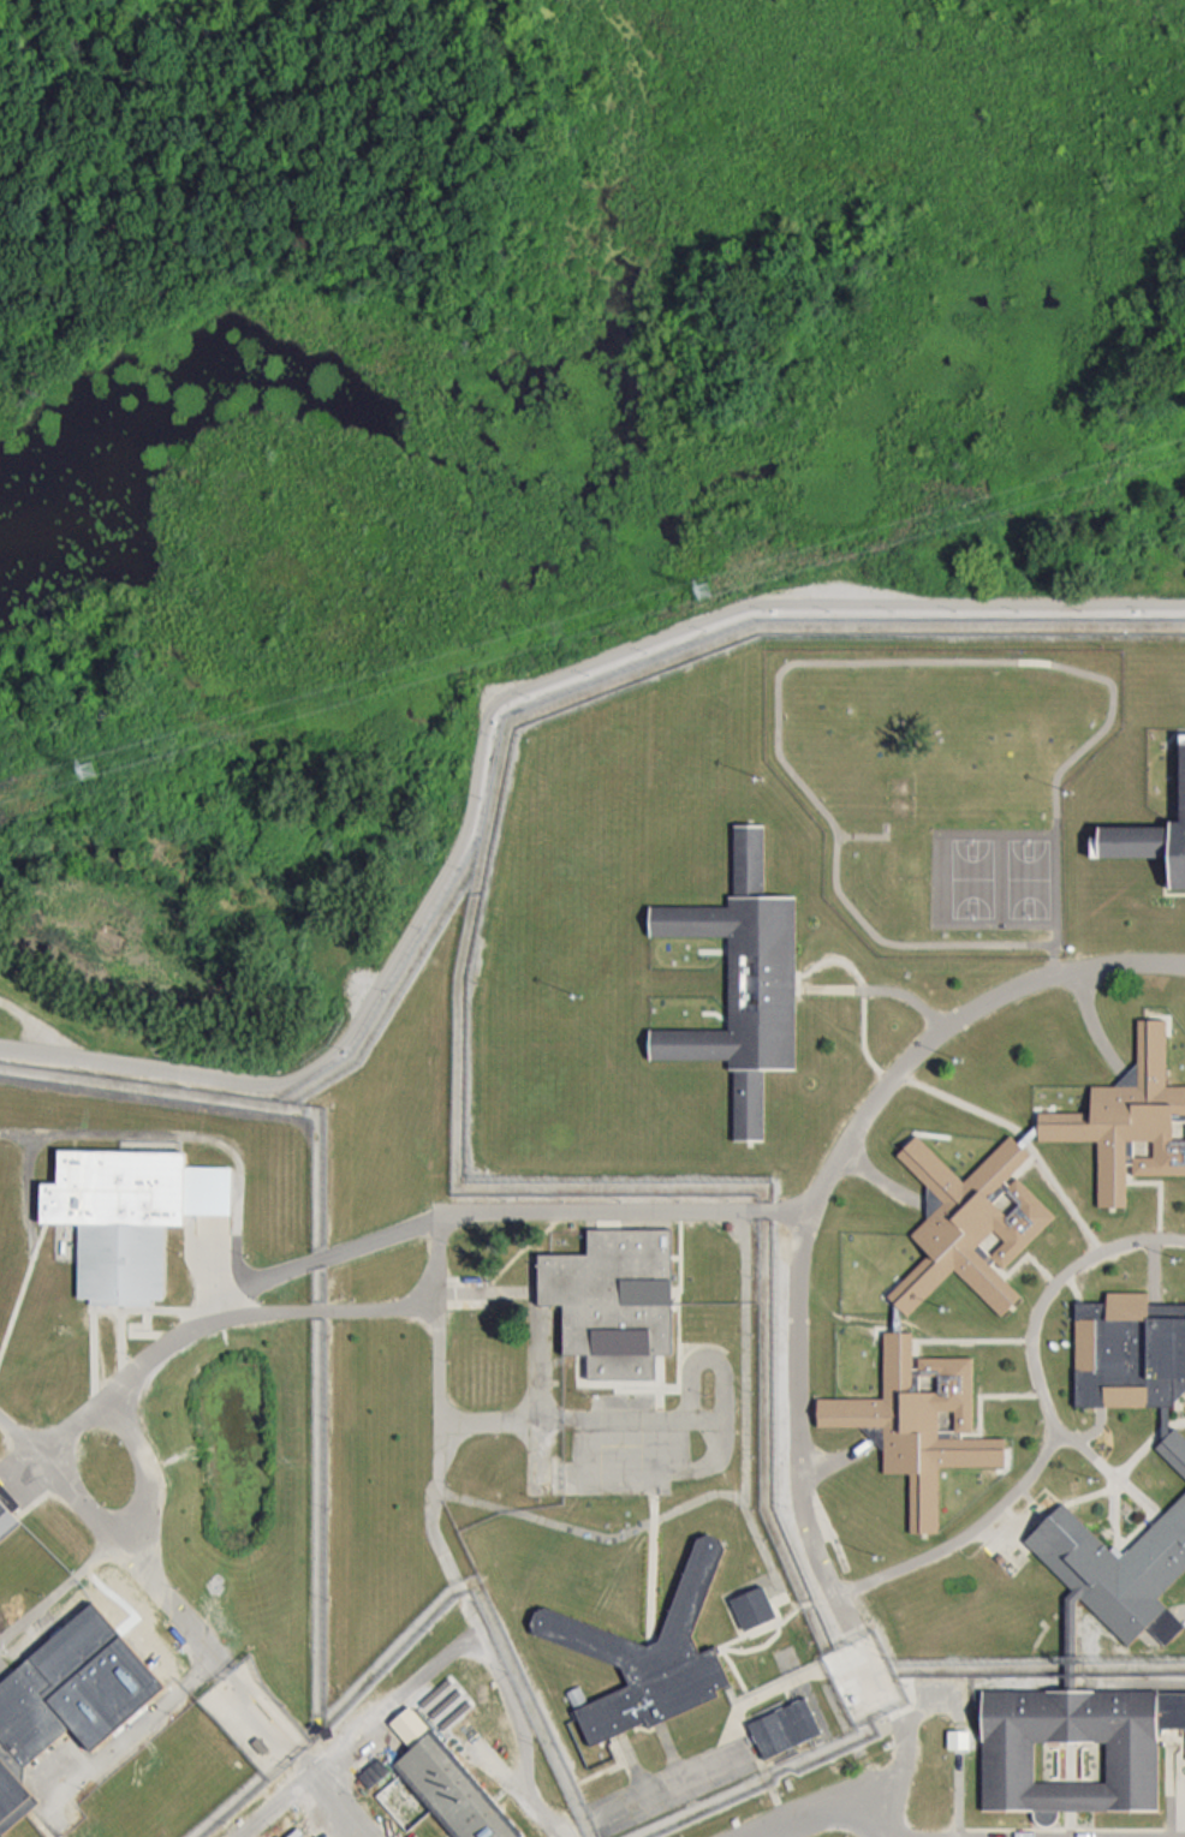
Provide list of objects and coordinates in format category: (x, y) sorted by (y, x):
park: (536, 138)
power tower: (703, 589)
road: (481, 694)
power tower: (87, 769)
building: (1148, 830)
building: (739, 985)
building: (1130, 1116)
building: (129, 1211)
building: (966, 1218)
building: (609, 1292)
building: (1127, 1347)
building: (917, 1420)
building: (1174, 1449)
building: (5, 1517)
building: (1115, 1569)
building: (754, 1604)
building: (645, 1650)
building: (576, 1694)
road: (404, 1695)
building: (784, 1725)
building: (23, 1728)
building: (958, 1737)
building: (1132, 1757)
building: (447, 1781)
road: (839, 1800)
road: (343, 1802)

